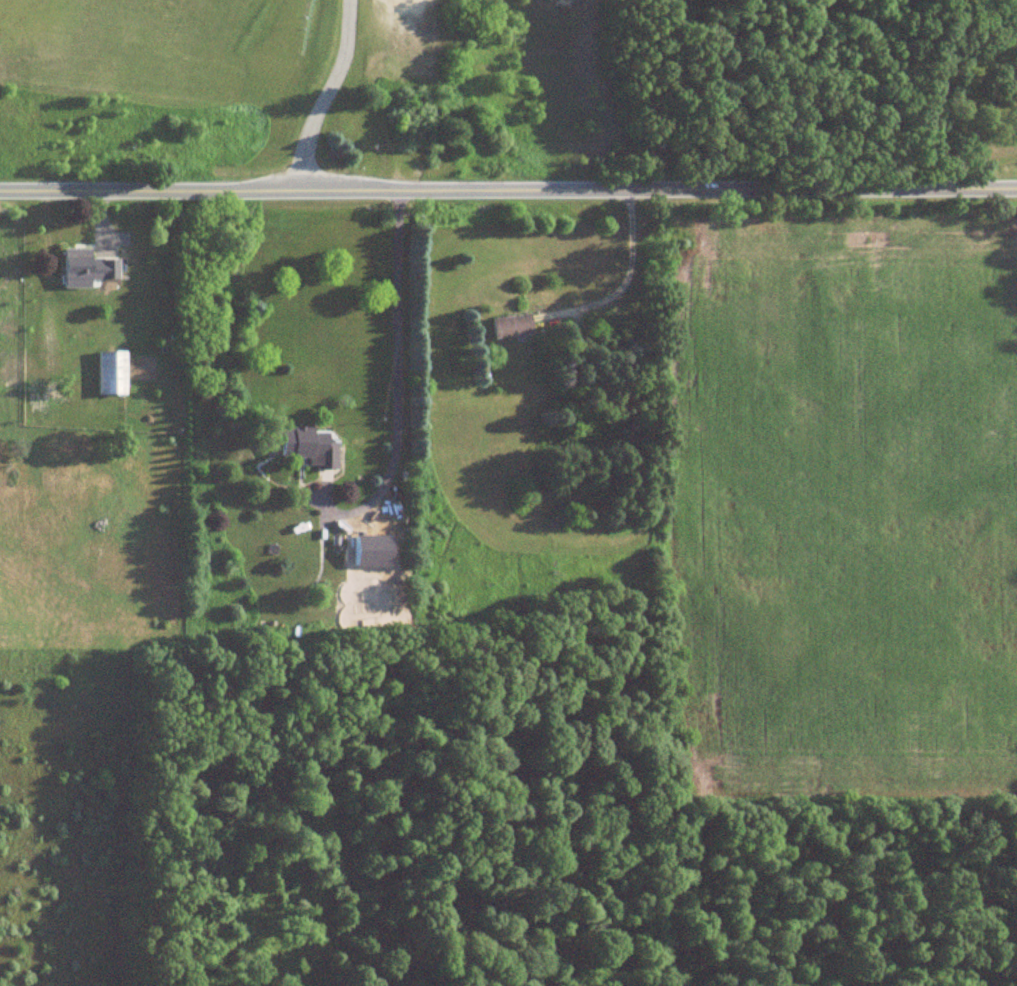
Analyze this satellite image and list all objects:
park: (304, 78)
road: (329, 95)
road: (508, 184)
building: (74, 263)
road: (588, 292)
building: (509, 326)
building: (47, 367)
building: (110, 373)
road: (395, 381)
building: (307, 448)

